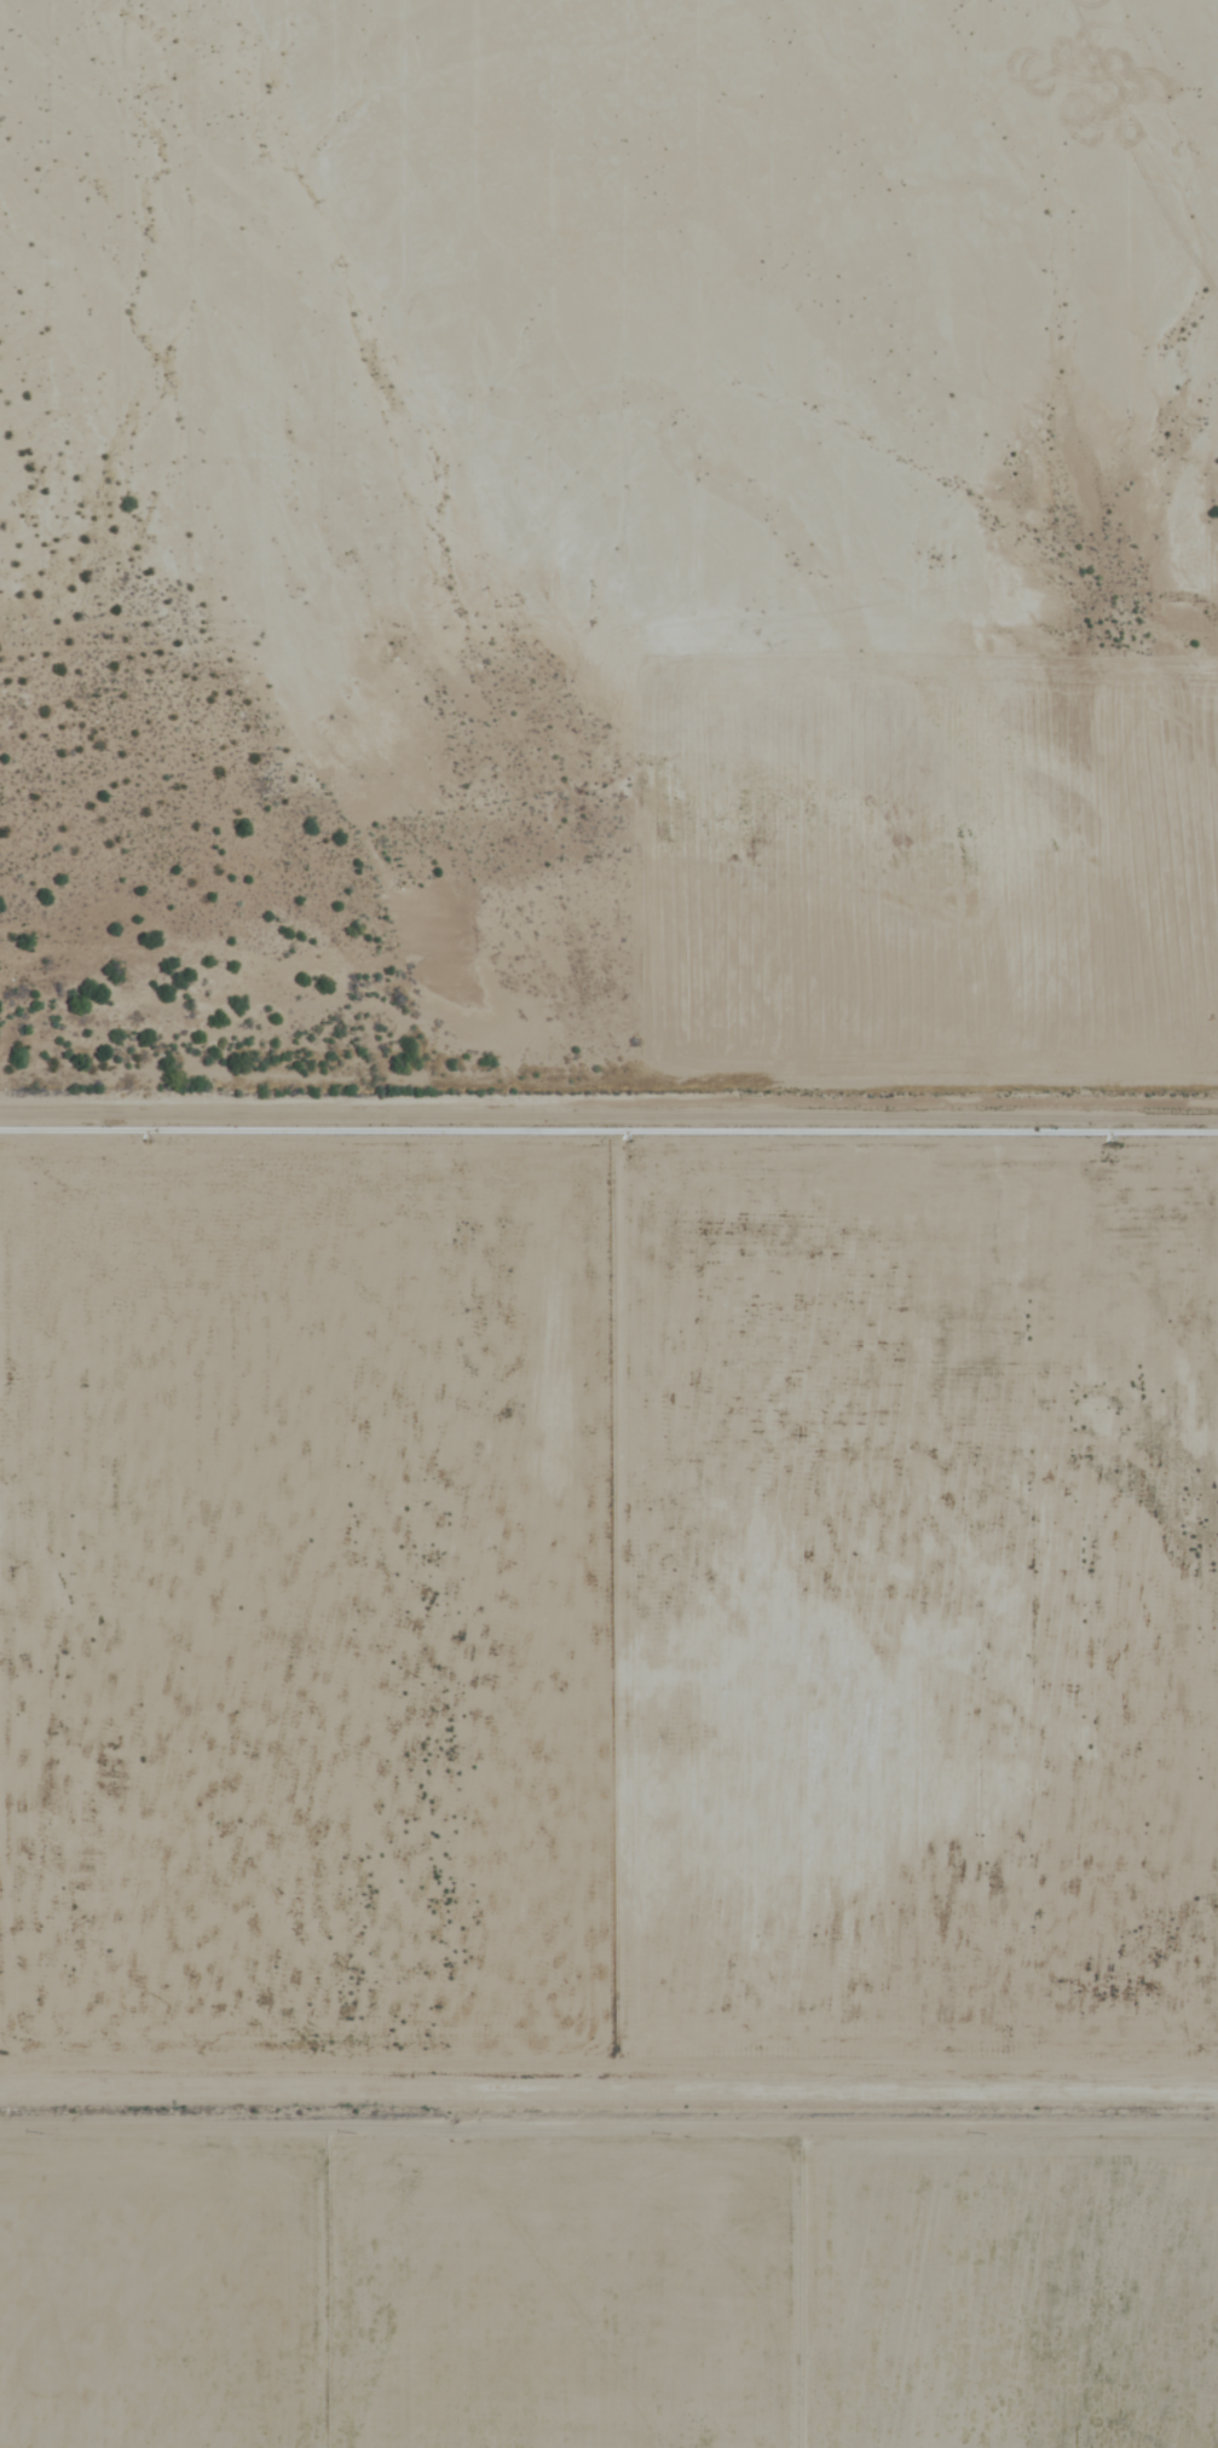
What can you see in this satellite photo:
crop: (608, 1778)

